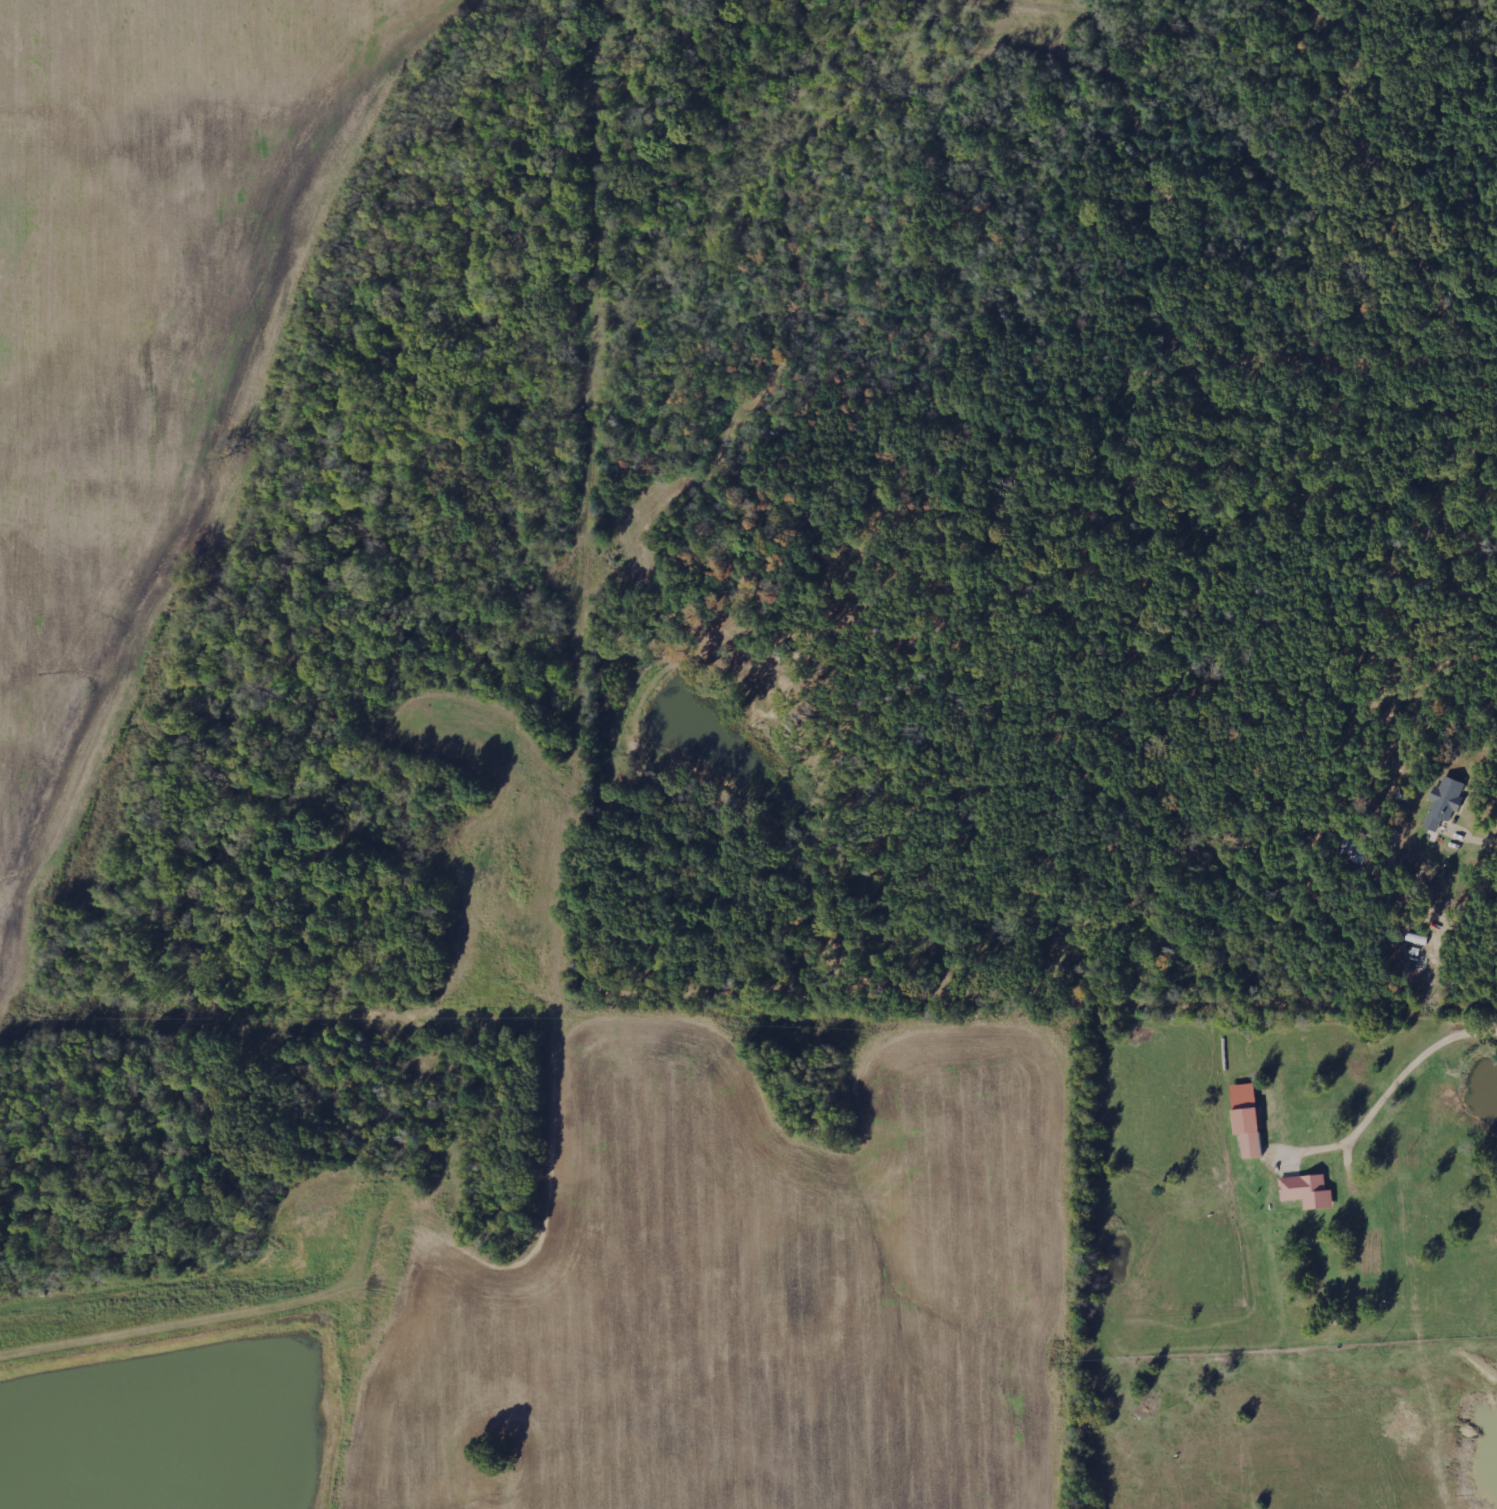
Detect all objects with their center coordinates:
building: (1445, 801)
building: (1248, 1125)
building: (1307, 1191)

